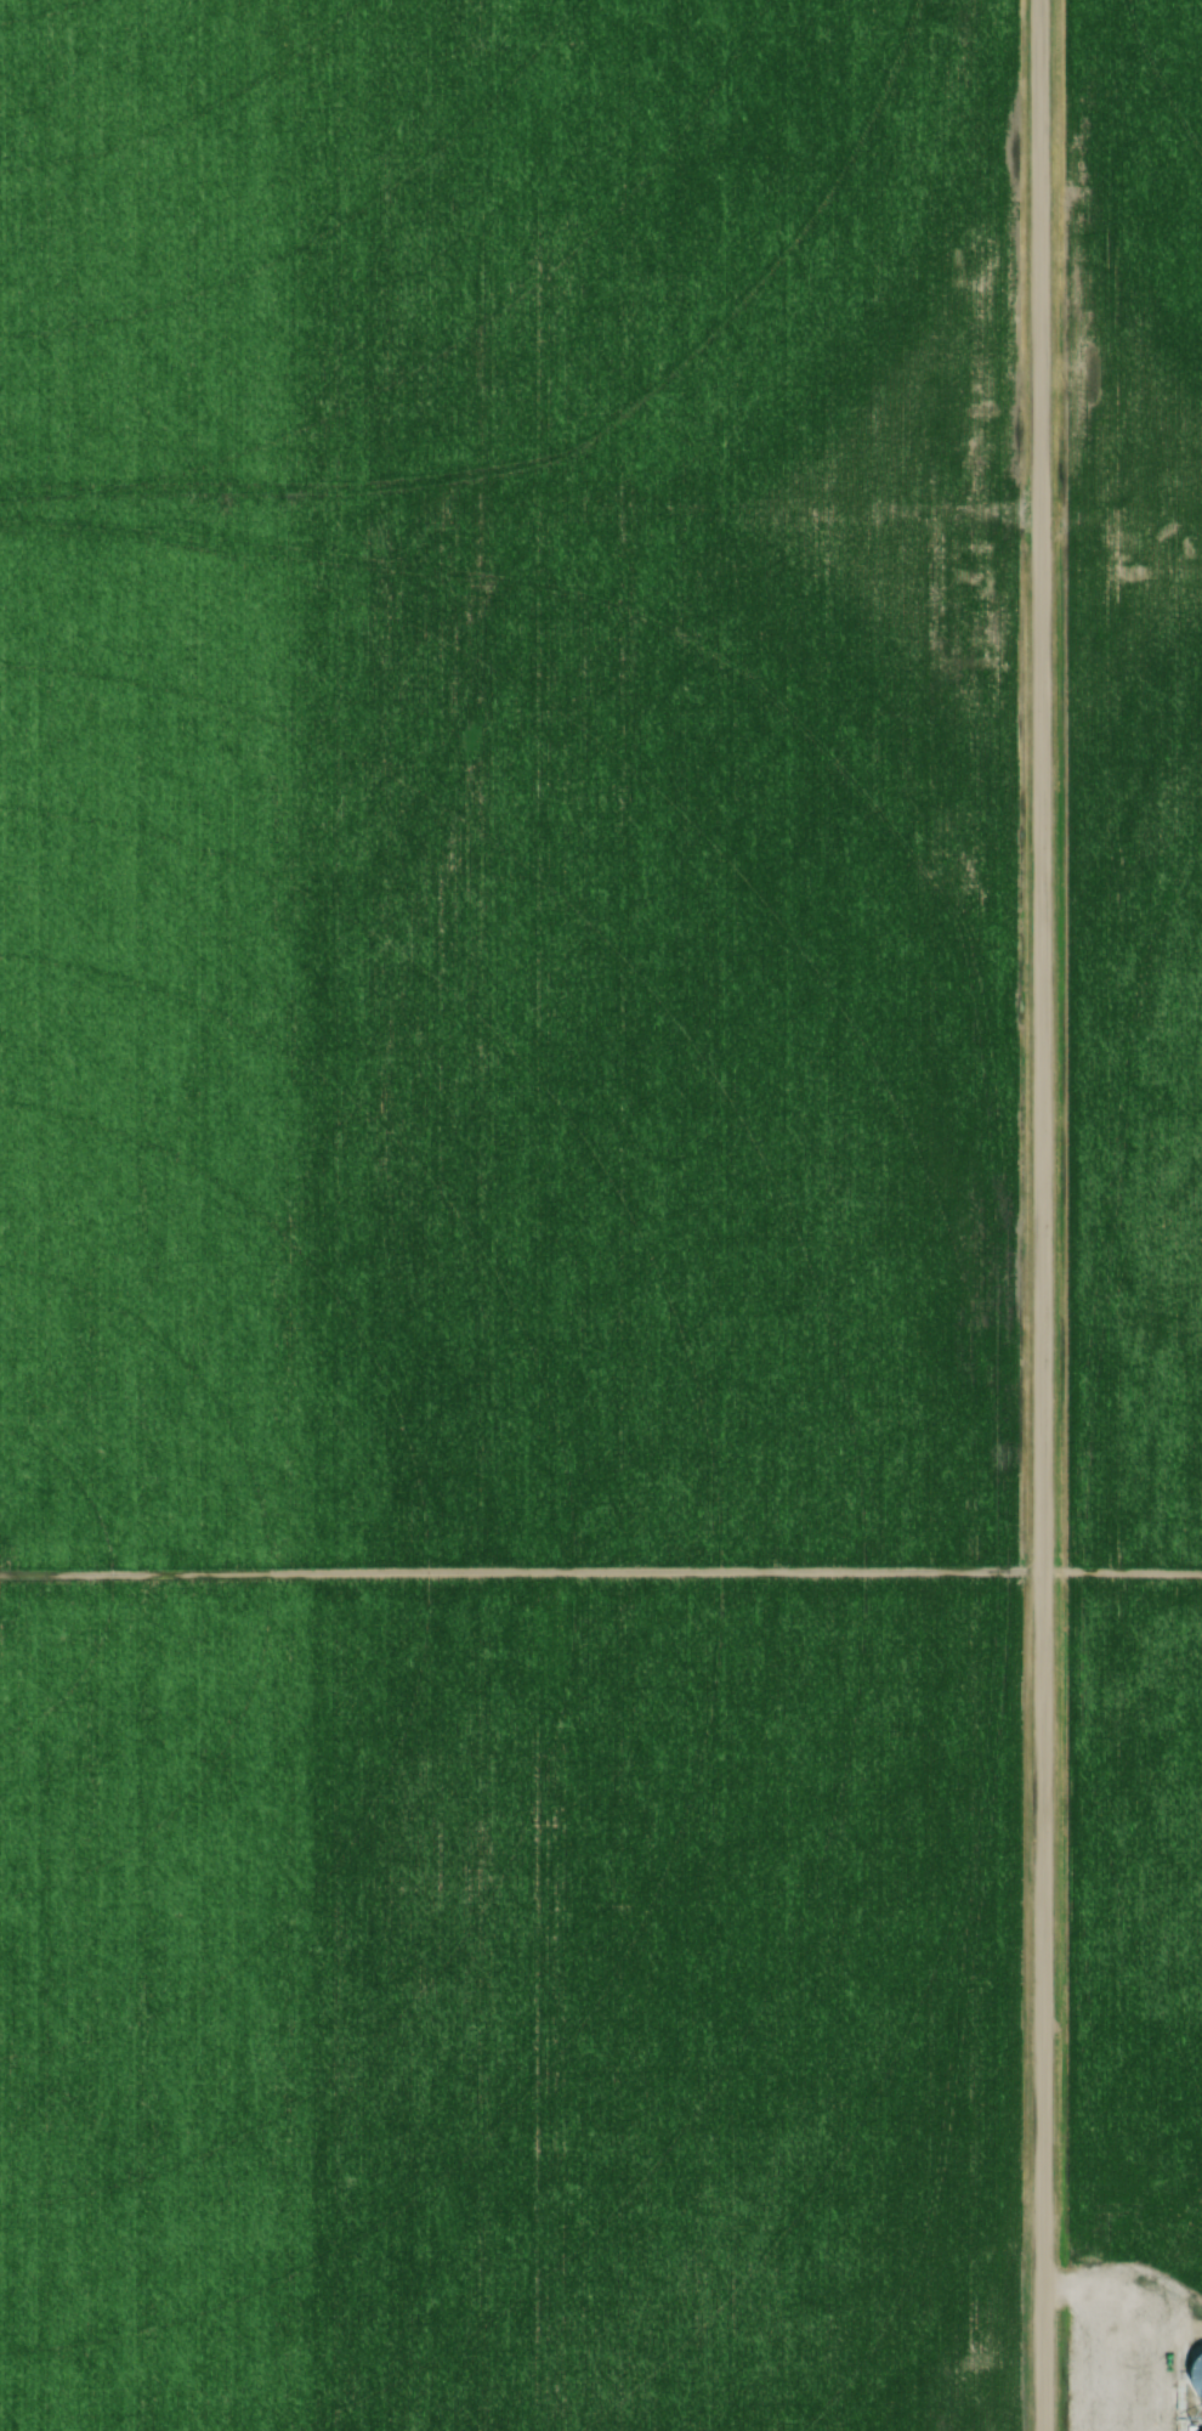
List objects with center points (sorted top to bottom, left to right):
road: (1038, 1215)

